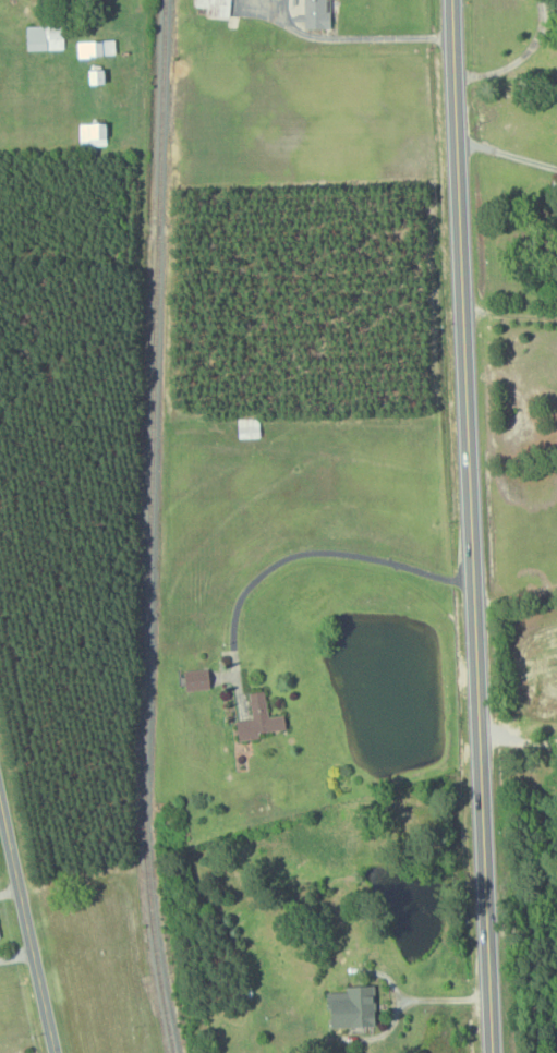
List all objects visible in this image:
building: (215, 8)
building: (316, 14)
building: (44, 37)
road: (355, 37)
building: (95, 48)
road: (518, 59)
building: (92, 134)
road: (506, 150)
road: (142, 218)
road: (509, 313)
building: (249, 427)
road: (471, 525)
railway: (152, 528)
road: (324, 552)
road: (516, 595)
building: (195, 678)
building: (258, 717)
road: (517, 742)
road: (10, 892)
road: (26, 925)
road: (521, 928)
road: (16, 956)
road: (440, 1000)
road: (395, 1003)
building: (352, 1006)

